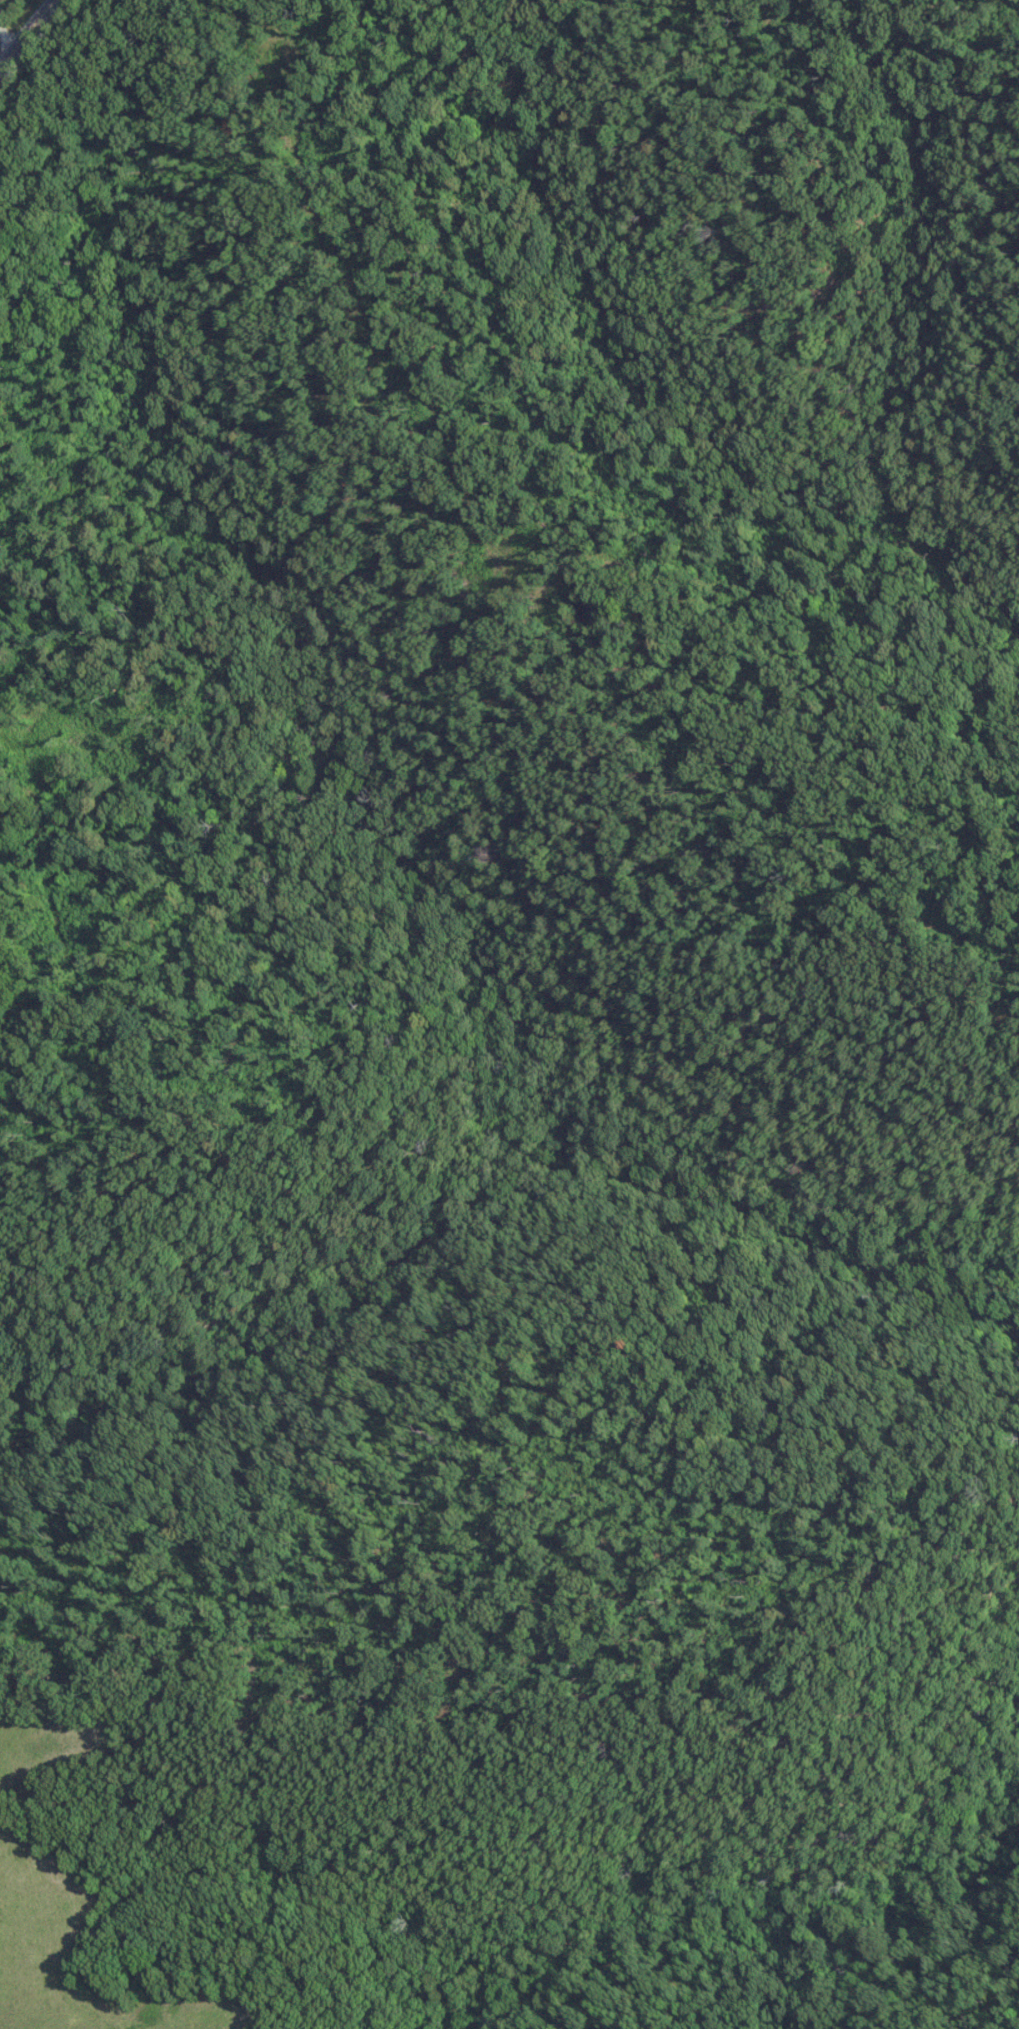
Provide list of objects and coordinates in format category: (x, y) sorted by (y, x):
road: (27, 38)

